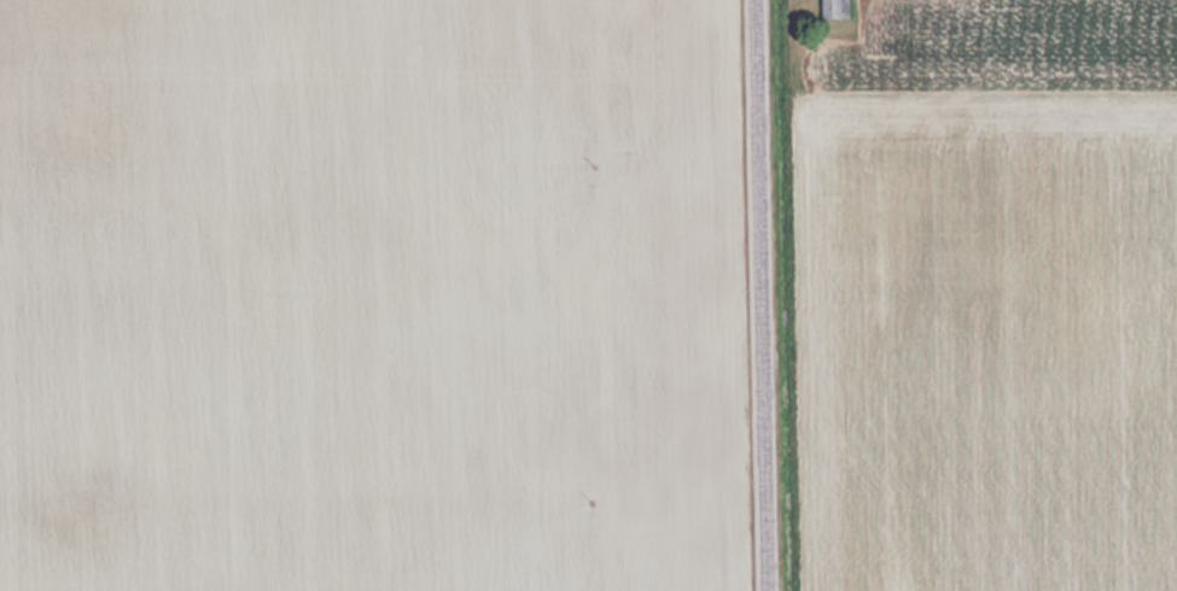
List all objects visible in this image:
building: (833, 7)
road: (765, 294)

